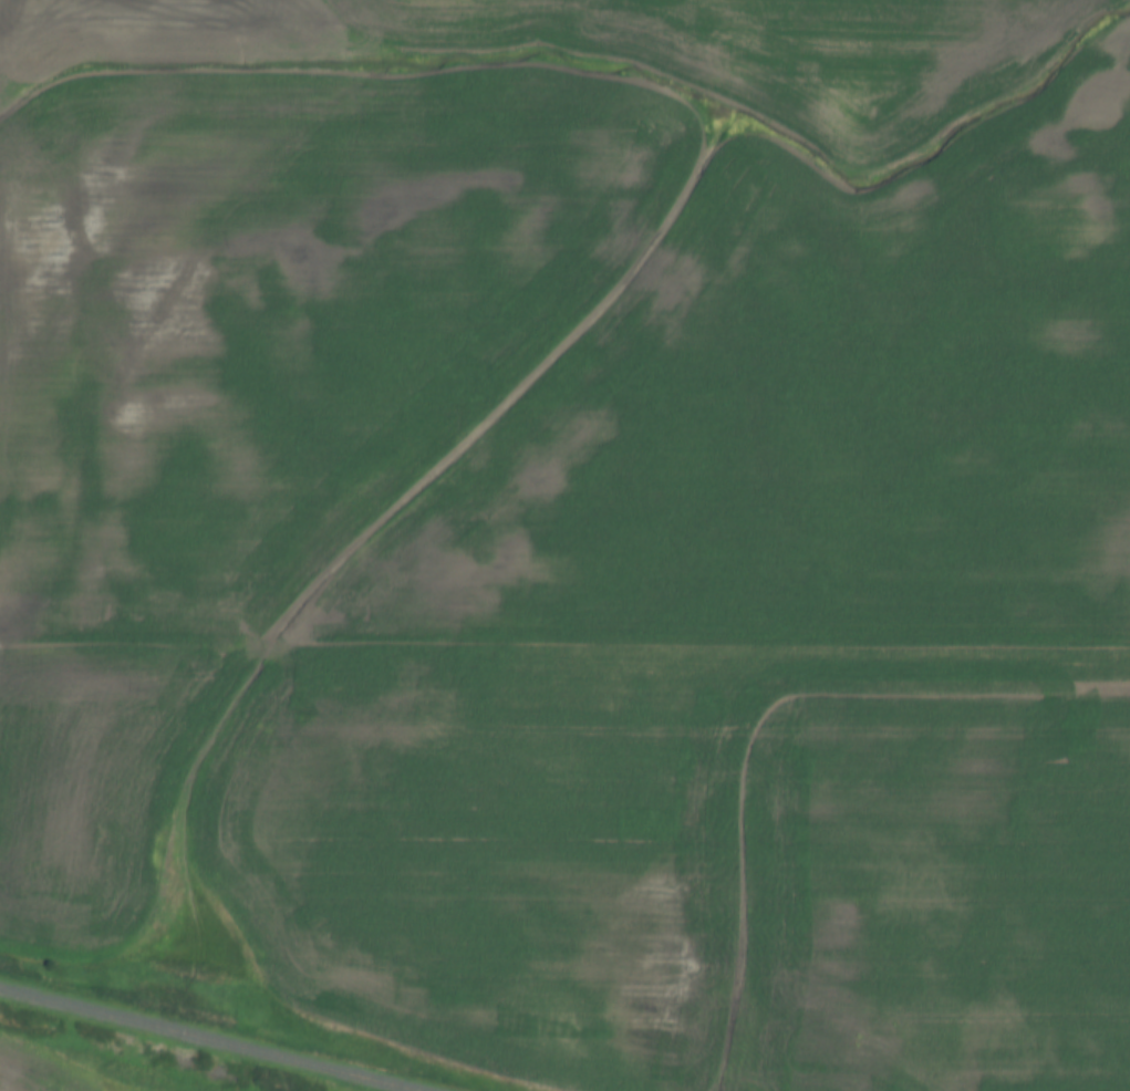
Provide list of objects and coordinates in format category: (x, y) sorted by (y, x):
railway: (207, 1039)

